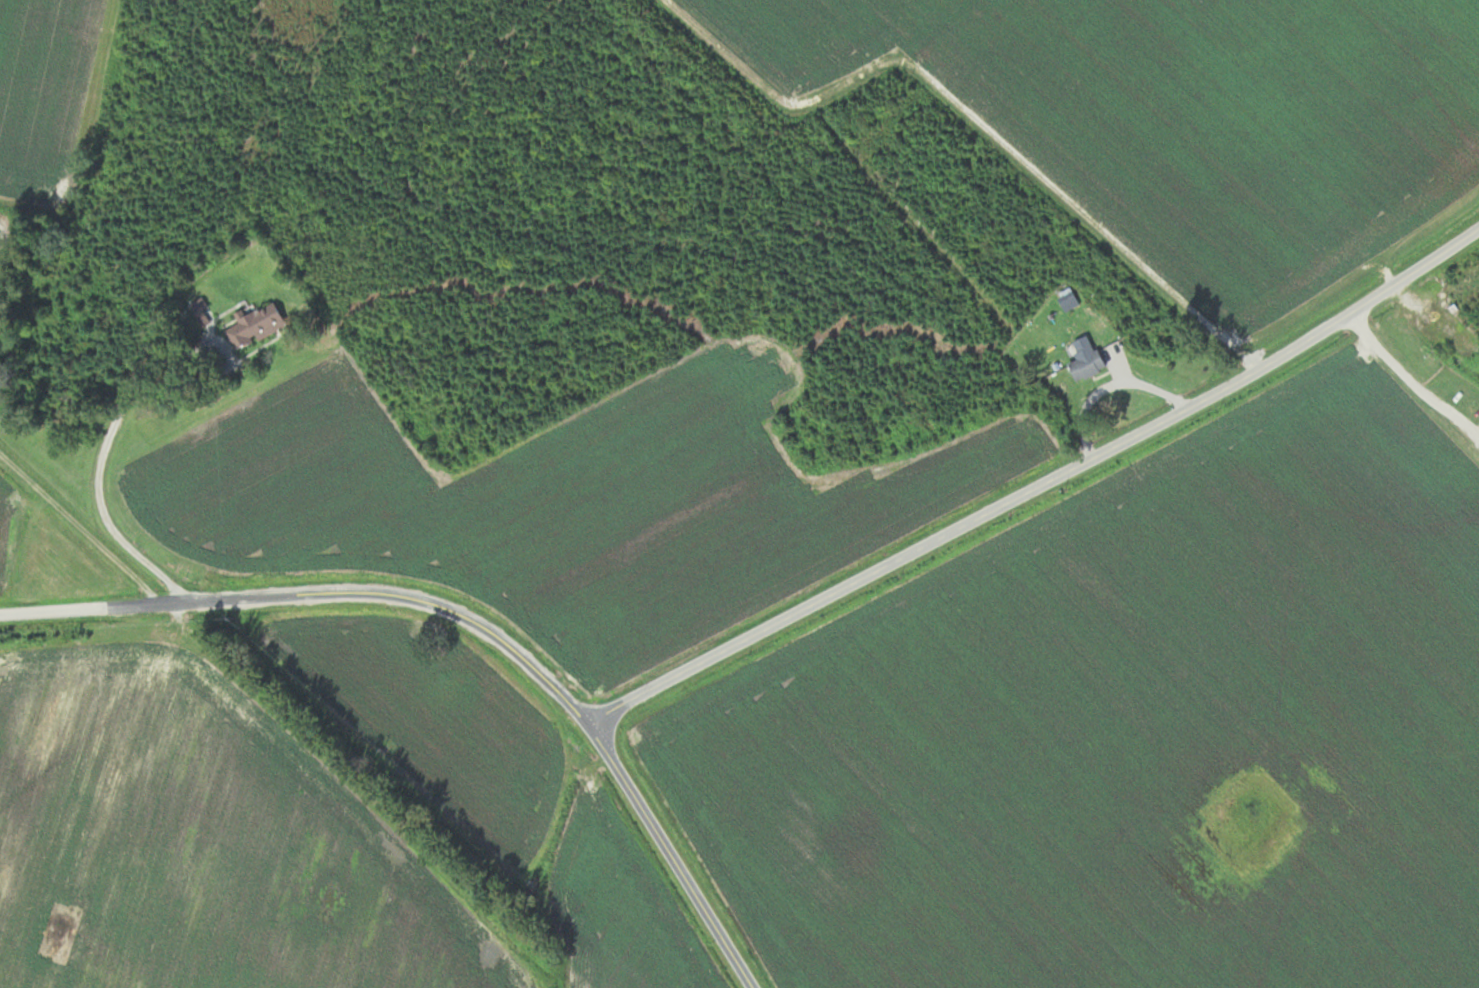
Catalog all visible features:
building: (1460, 286)
building: (255, 327)
building: (1476, 329)
building: (1087, 366)
road: (1411, 378)
road: (102, 459)
road: (1037, 481)
road: (468, 618)

